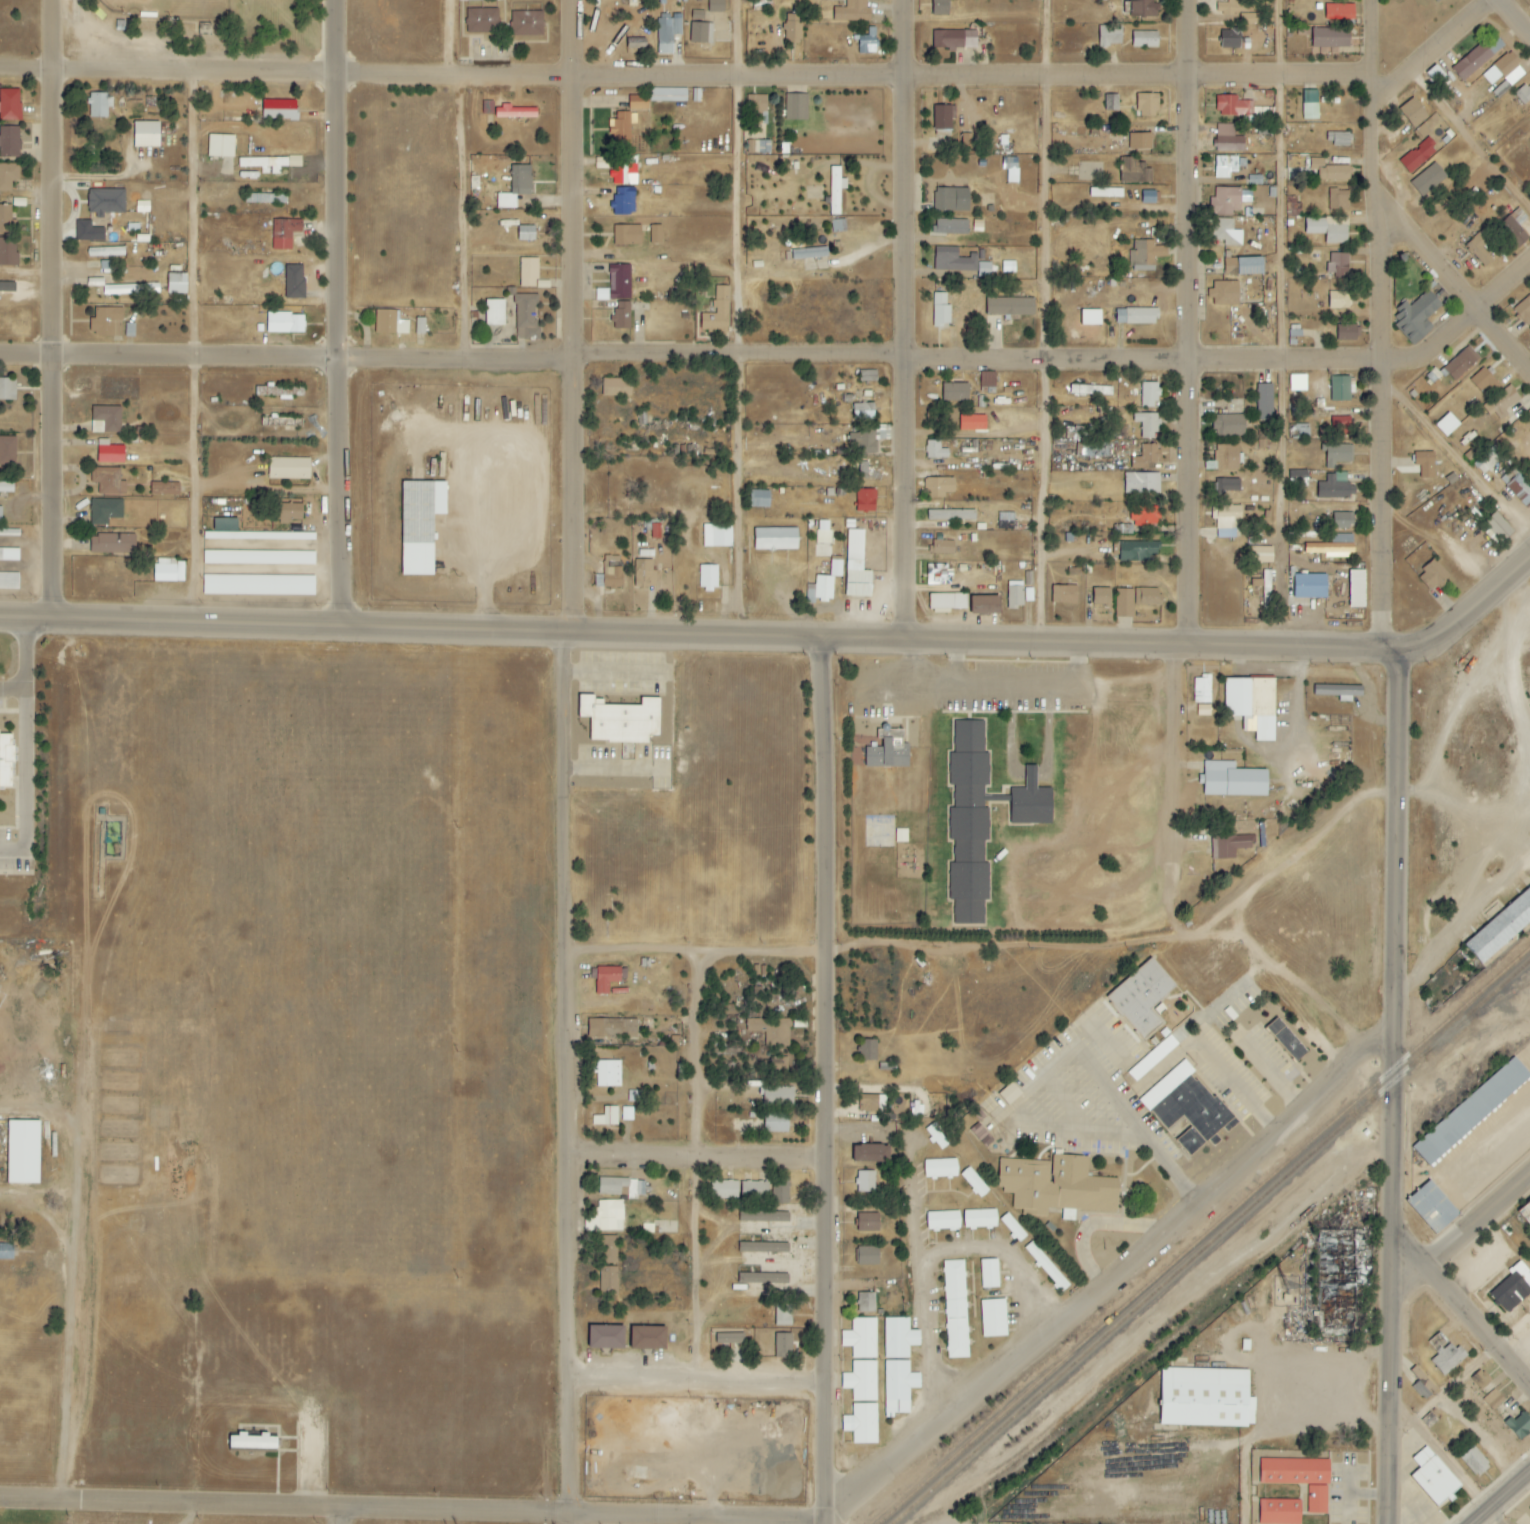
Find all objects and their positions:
building: (1439, 0)
building: (716, 6)
building: (940, 7)
building: (1144, 8)
building: (852, 11)
building: (1237, 11)
building: (1339, 12)
building: (697, 14)
road: (1516, 15)
building: (482, 21)
building: (527, 24)
building: (793, 26)
building: (668, 33)
building: (701, 33)
building: (1110, 35)
building: (1330, 38)
building: (954, 39)
road: (1377, 39)
building: (1144, 40)
building: (867, 42)
road: (1442, 53)
building: (1472, 62)
building: (1503, 75)
building: (1437, 76)
road: (689, 81)
road: (1379, 90)
building: (1523, 94)
building: (667, 95)
building: (638, 102)
building: (1111, 102)
building: (1310, 104)
building: (10, 105)
building: (99, 105)
building: (1147, 105)
building: (796, 107)
building: (757, 109)
building: (279, 110)
building: (1243, 111)
building: (515, 112)
building: (1413, 112)
building: (941, 120)
building: (621, 130)
building: (1423, 131)
building: (145, 134)
building: (1338, 138)
building: (1227, 139)
road: (1474, 140)
building: (1141, 141)
building: (9, 143)
building: (220, 145)
building: (762, 146)
building: (1418, 156)
building: (269, 164)
building: (1225, 166)
building: (1011, 169)
building: (623, 170)
building: (1329, 171)
building: (1135, 172)
building: (8, 176)
building: (1428, 179)
road: (468, 181)
building: (516, 187)
building: (834, 191)
building: (265, 198)
building: (951, 199)
building: (1338, 199)
building: (1231, 200)
building: (105, 202)
building: (623, 203)
building: (6, 220)
building: (1516, 223)
building: (950, 227)
building: (1328, 229)
building: (88, 232)
building: (1226, 232)
building: (284, 233)
building: (525, 233)
building: (655, 234)
building: (627, 235)
building: (1479, 249)
building: (8, 252)
building: (105, 252)
building: (809, 253)
building: (1146, 255)
road: (860, 259)
building: (959, 262)
building: (1338, 264)
building: (106, 265)
building: (1243, 266)
building: (528, 272)
building: (294, 282)
building: (176, 283)
building: (617, 284)
road: (1456, 286)
building: (130, 289)
building: (1224, 294)
building: (1338, 300)
building: (1010, 307)
road: (52, 309)
building: (941, 310)
building: (1523, 311)
road: (347, 312)
building: (494, 312)
building: (717, 312)
building: (622, 315)
building: (526, 316)
building: (1136, 316)
building: (1090, 317)
building: (1416, 317)
road: (744, 319)
road: (910, 320)
building: (106, 322)
road: (1051, 322)
building: (285, 323)
building: (389, 323)
road: (1197, 323)
road: (1281, 325)
building: (420, 326)
building: (1346, 332)
road: (193, 349)
road: (782, 357)
building: (1461, 364)
building: (868, 375)
road: (1385, 377)
building: (1482, 380)
building: (987, 381)
building: (1297, 383)
building: (616, 387)
building: (1342, 388)
building: (7, 389)
building: (1091, 391)
building: (279, 392)
building: (955, 392)
building: (1149, 395)
building: (1264, 402)
building: (1501, 404)
building: (863, 411)
building: (105, 420)
building: (281, 421)
building: (971, 422)
building: (1147, 425)
building: (1229, 425)
building: (1447, 425)
building: (1341, 426)
building: (1299, 431)
building: (867, 441)
building: (935, 450)
building: (1096, 450)
building: (7, 451)
building: (110, 454)
building: (1337, 455)
building: (1146, 457)
building: (1226, 457)
building: (1484, 457)
road: (1459, 458)
building: (1425, 464)
building: (288, 468)
building: (866, 471)
building: (107, 481)
building: (1142, 483)
building: (1229, 485)
building: (6, 487)
building: (939, 487)
building: (1334, 487)
building: (1519, 487)
building: (164, 489)
building: (759, 499)
building: (865, 501)
building: (104, 511)
building: (289, 513)
building: (0, 515)
building: (951, 515)
building: (1145, 516)
building: (1228, 521)
building: (1341, 521)
building: (419, 525)
building: (1494, 531)
building: (228, 535)
building: (717, 536)
building: (823, 538)
building: (775, 539)
building: (112, 544)
building: (1334, 547)
building: (943, 548)
building: (1137, 551)
building: (646, 555)
building: (1260, 555)
building: (856, 567)
building: (836, 569)
building: (168, 570)
building: (644, 574)
building: (939, 575)
building: (1433, 576)
building: (708, 577)
building: (614, 578)
building: (8, 581)
building: (258, 585)
building: (1309, 587)
building: (821, 589)
building: (1357, 589)
building: (1266, 590)
building: (1014, 595)
building: (1064, 595)
building: (1101, 597)
building: (1147, 597)
building: (947, 602)
building: (1124, 603)
building: (984, 606)
road: (285, 624)
road: (1066, 645)
road: (36, 673)
building: (1202, 689)
building: (1339, 691)
building: (1252, 704)
road: (1022, 707)
building: (1203, 710)
road: (1455, 717)
building: (621, 721)
building: (969, 736)
road: (1526, 750)
building: (888, 751)
road: (568, 756)
building: (5, 761)
road: (58, 770)
building: (1233, 780)
building: (1030, 801)
building: (969, 804)
building: (901, 835)
building: (1229, 846)
building: (968, 891)
road: (1094, 906)
road: (1242, 909)
building: (1500, 928)
road: (694, 955)
building: (607, 978)
building: (1142, 996)
railway: (1481, 1010)
building: (612, 1028)
building: (772, 1031)
building: (1286, 1040)
building: (868, 1050)
building: (775, 1065)
building: (607, 1073)
road: (1248, 1079)
road: (824, 1082)
road: (1391, 1086)
building: (1010, 1094)
building: (634, 1096)
building: (777, 1096)
building: (872, 1103)
building: (937, 1104)
building: (1187, 1110)
building: (1470, 1111)
road: (25, 1113)
building: (607, 1117)
road: (1141, 1117)
building: (775, 1122)
building: (981, 1135)
building: (936, 1136)
building: (22, 1152)
road: (912, 1152)
building: (870, 1153)
road: (695, 1159)
building: (941, 1167)
road: (704, 1169)
building: (866, 1182)
building: (974, 1182)
building: (1057, 1186)
building: (621, 1187)
building: (723, 1189)
building: (754, 1190)
building: (780, 1191)
road: (35, 1192)
building: (1431, 1207)
building: (1525, 1213)
building: (606, 1217)
building: (760, 1218)
building: (943, 1218)
building: (981, 1218)
building: (867, 1223)
building: (1012, 1228)
railway: (1203, 1235)
railway: (1210, 1241)
road: (1467, 1241)
building: (763, 1247)
building: (608, 1249)
building: (867, 1256)
road: (1012, 1256)
building: (989, 1273)
building: (755, 1276)
road: (1116, 1280)
building: (608, 1282)
building: (1513, 1287)
building: (866, 1302)
road: (74, 1303)
building: (955, 1309)
building: (783, 1315)
building: (994, 1316)
road: (1480, 1329)
building: (860, 1336)
building: (898, 1336)
building: (606, 1337)
building: (647, 1337)
building: (729, 1338)
road: (936, 1338)
building: (783, 1344)
building: (1446, 1355)
building: (861, 1379)
building: (1481, 1379)
building: (899, 1380)
road: (696, 1382)
road: (1462, 1386)
road: (1286, 1391)
building: (1206, 1397)
building: (1494, 1399)
building: (862, 1422)
building: (1518, 1423)
building: (251, 1442)
building: (1475, 1461)
road: (1455, 1463)
building: (1434, 1476)
building: (1299, 1478)
road: (1500, 1498)
road: (413, 1508)
building: (1278, 1512)
road: (336, 1515)
road: (1496, 1516)
road: (569, 1518)

